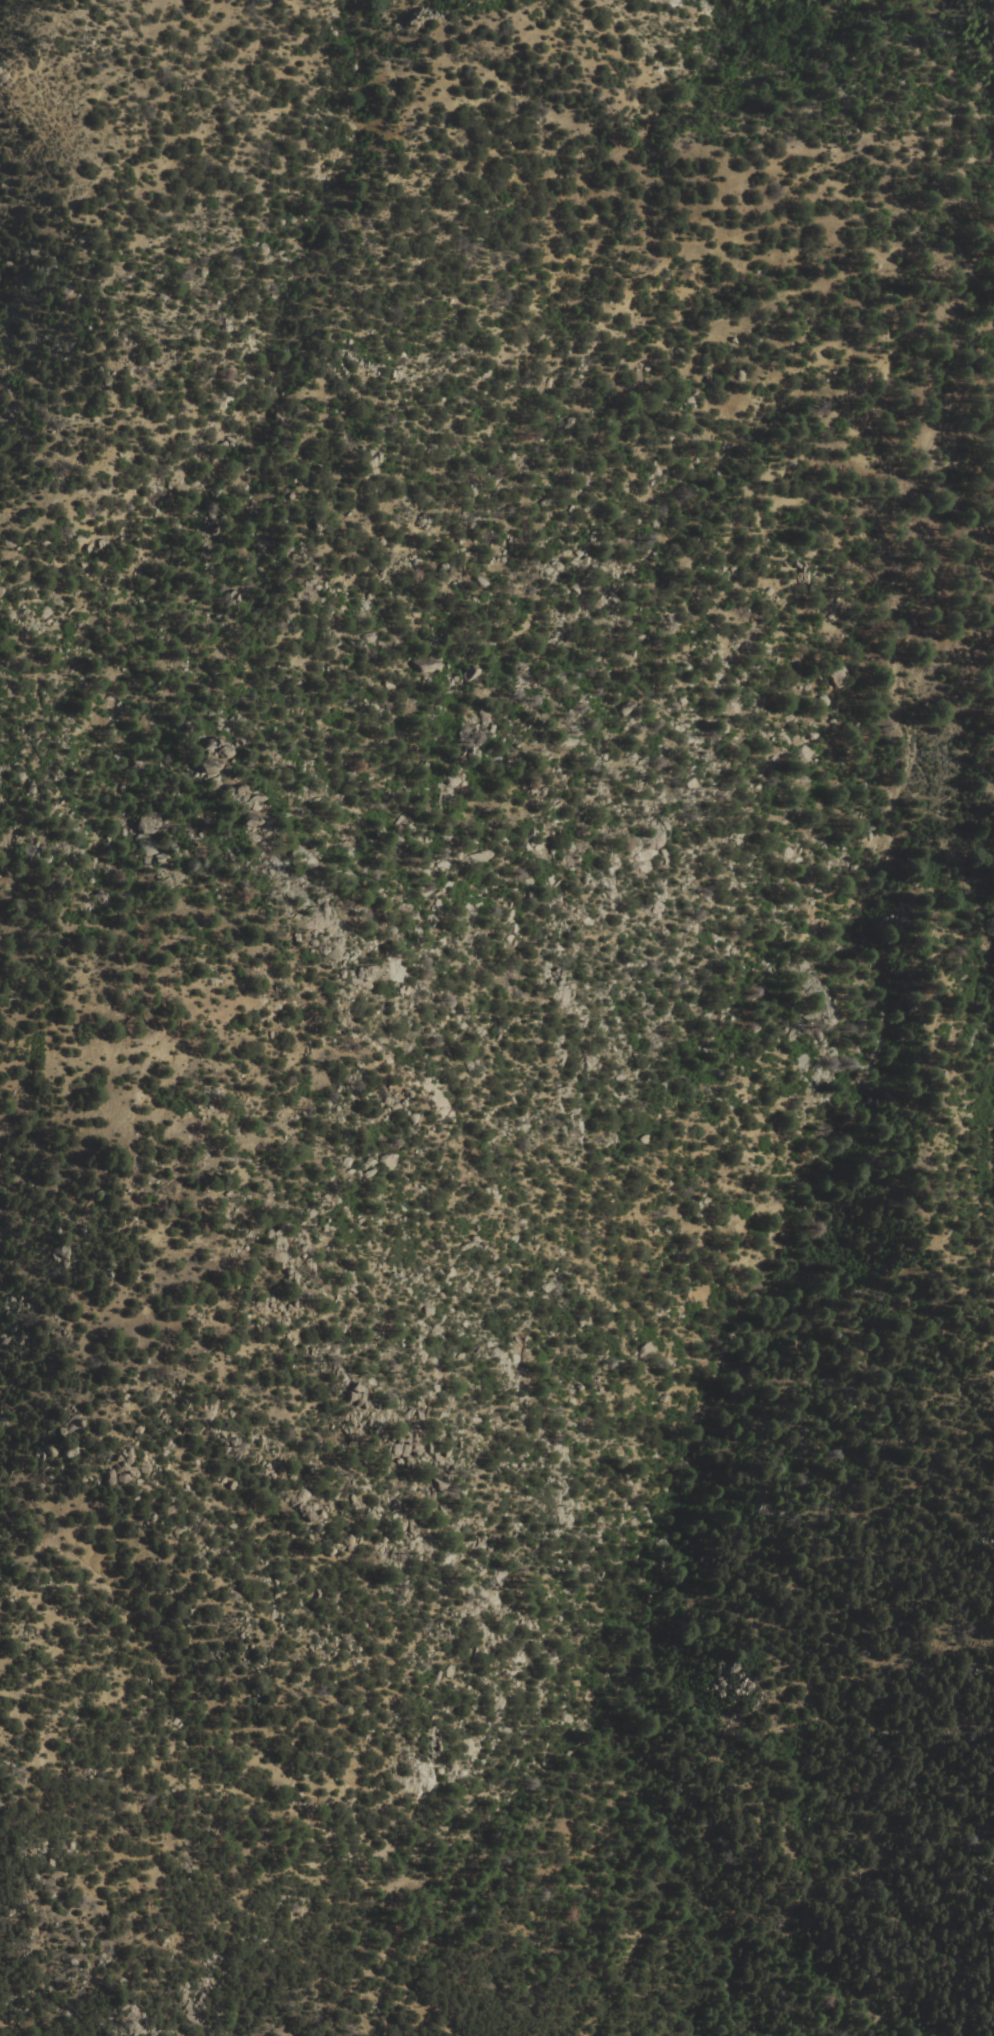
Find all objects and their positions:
road: (186, 1850)
road: (374, 1994)

